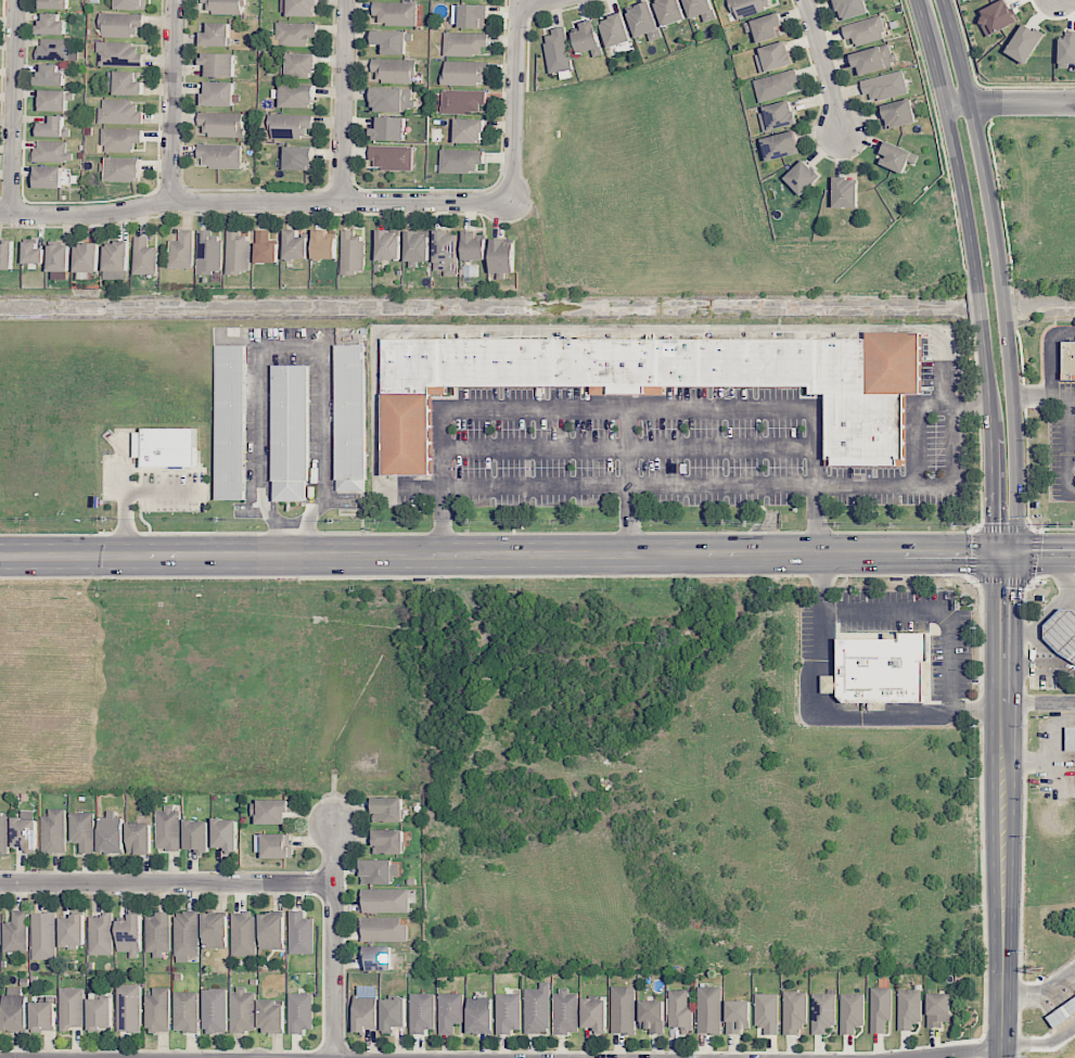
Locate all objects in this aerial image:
road: (533, 0)
building: (54, 4)
building: (130, 4)
building: (226, 7)
building: (751, 7)
building: (302, 8)
building: (700, 9)
building: (850, 9)
building: (669, 11)
building: (395, 13)
building: (469, 15)
building: (997, 16)
building: (644, 22)
building: (120, 24)
building: (51, 25)
building: (765, 27)
building: (615, 30)
building: (865, 30)
building: (295, 34)
building: (216, 35)
building: (588, 39)
building: (391, 41)
building: (463, 43)
building: (1024, 43)
road: (967, 48)
building: (55, 49)
building: (1066, 50)
building: (556, 51)
building: (118, 54)
building: (773, 58)
building: (873, 59)
building: (218, 64)
building: (300, 65)
road: (824, 66)
building: (394, 71)
building: (464, 73)
building: (50, 76)
building: (124, 84)
building: (776, 85)
building: (885, 86)
building: (218, 93)
building: (295, 95)
building: (52, 100)
building: (393, 100)
road: (170, 101)
road: (343, 101)
building: (462, 101)
road: (513, 101)
road: (1009, 102)
road: (989, 104)
road: (12, 107)
building: (119, 112)
building: (898, 114)
building: (777, 116)
building: (221, 125)
building: (290, 126)
building: (52, 127)
building: (388, 129)
building: (469, 130)
building: (120, 139)
building: (780, 145)
building: (52, 151)
building: (220, 156)
building: (392, 157)
building: (896, 157)
building: (298, 158)
building: (460, 161)
building: (124, 169)
building: (48, 177)
building: (802, 177)
building: (845, 192)
road: (254, 202)
building: (295, 245)
building: (323, 245)
building: (388, 245)
building: (417, 246)
building: (473, 246)
building: (266, 247)
building: (182, 250)
building: (209, 252)
building: (238, 252)
building: (353, 252)
building: (446, 252)
building: (7, 254)
building: (35, 254)
building: (502, 256)
building: (60, 257)
building: (88, 257)
building: (145, 257)
building: (117, 260)
road: (962, 262)
road: (978, 273)
road: (1002, 273)
road: (1014, 324)
road: (586, 330)
road: (273, 346)
road: (1051, 356)
building: (1068, 359)
building: (661, 380)
road: (1045, 398)
road: (972, 403)
road: (624, 408)
building: (351, 418)
building: (231, 421)
building: (291, 432)
building: (165, 446)
road: (1068, 446)
road: (627, 448)
road: (628, 448)
road: (956, 455)
road: (722, 484)
road: (500, 487)
road: (125, 493)
road: (1004, 528)
traffic signals: (1003, 552)
road: (1039, 552)
road: (501, 555)
road: (1062, 577)
road: (1003, 581)
road: (930, 610)
road: (1050, 613)
building: (1062, 633)
gas station: (1062, 633)
road: (1032, 648)
building: (881, 668)
road: (1038, 701)
road: (830, 714)
building: (1070, 738)
road: (1001, 804)
building: (387, 810)
building: (272, 812)
building: (167, 828)
building: (82, 830)
building: (25, 831)
building: (3, 832)
building: (54, 832)
building: (111, 832)
building: (226, 833)
building: (196, 836)
building: (139, 838)
building: (388, 841)
building: (277, 845)
building: (379, 871)
road: (167, 885)
building: (385, 901)
building: (383, 928)
building: (215, 930)
building: (72, 931)
building: (271, 931)
building: (15, 932)
building: (157, 933)
building: (243, 933)
building: (300, 933)
building: (101, 934)
building: (43, 935)
building: (130, 935)
building: (185, 935)
road: (334, 943)
building: (376, 957)
road: (1040, 994)
building: (14, 1008)
building: (72, 1008)
building: (129, 1008)
building: (880, 1008)
building: (908, 1008)
building: (537, 1009)
building: (623, 1009)
building: (937, 1009)
building: (158, 1010)
building: (215, 1010)
building: (242, 1010)
building: (509, 1010)
building: (680, 1010)
building: (709, 1010)
building: (185, 1011)
building: (450, 1011)
building: (565, 1011)
building: (767, 1011)
building: (794, 1011)
building: (822, 1011)
building: (852, 1011)
building: (100, 1012)
building: (299, 1012)
building: (366, 1012)
building: (423, 1012)
building: (1062, 1012)
building: (394, 1014)
building: (479, 1015)
building: (594, 1015)
building: (42, 1016)
building: (652, 1016)
building: (737, 1016)
building: (272, 1017)
road: (1039, 1044)
road: (955, 1050)

